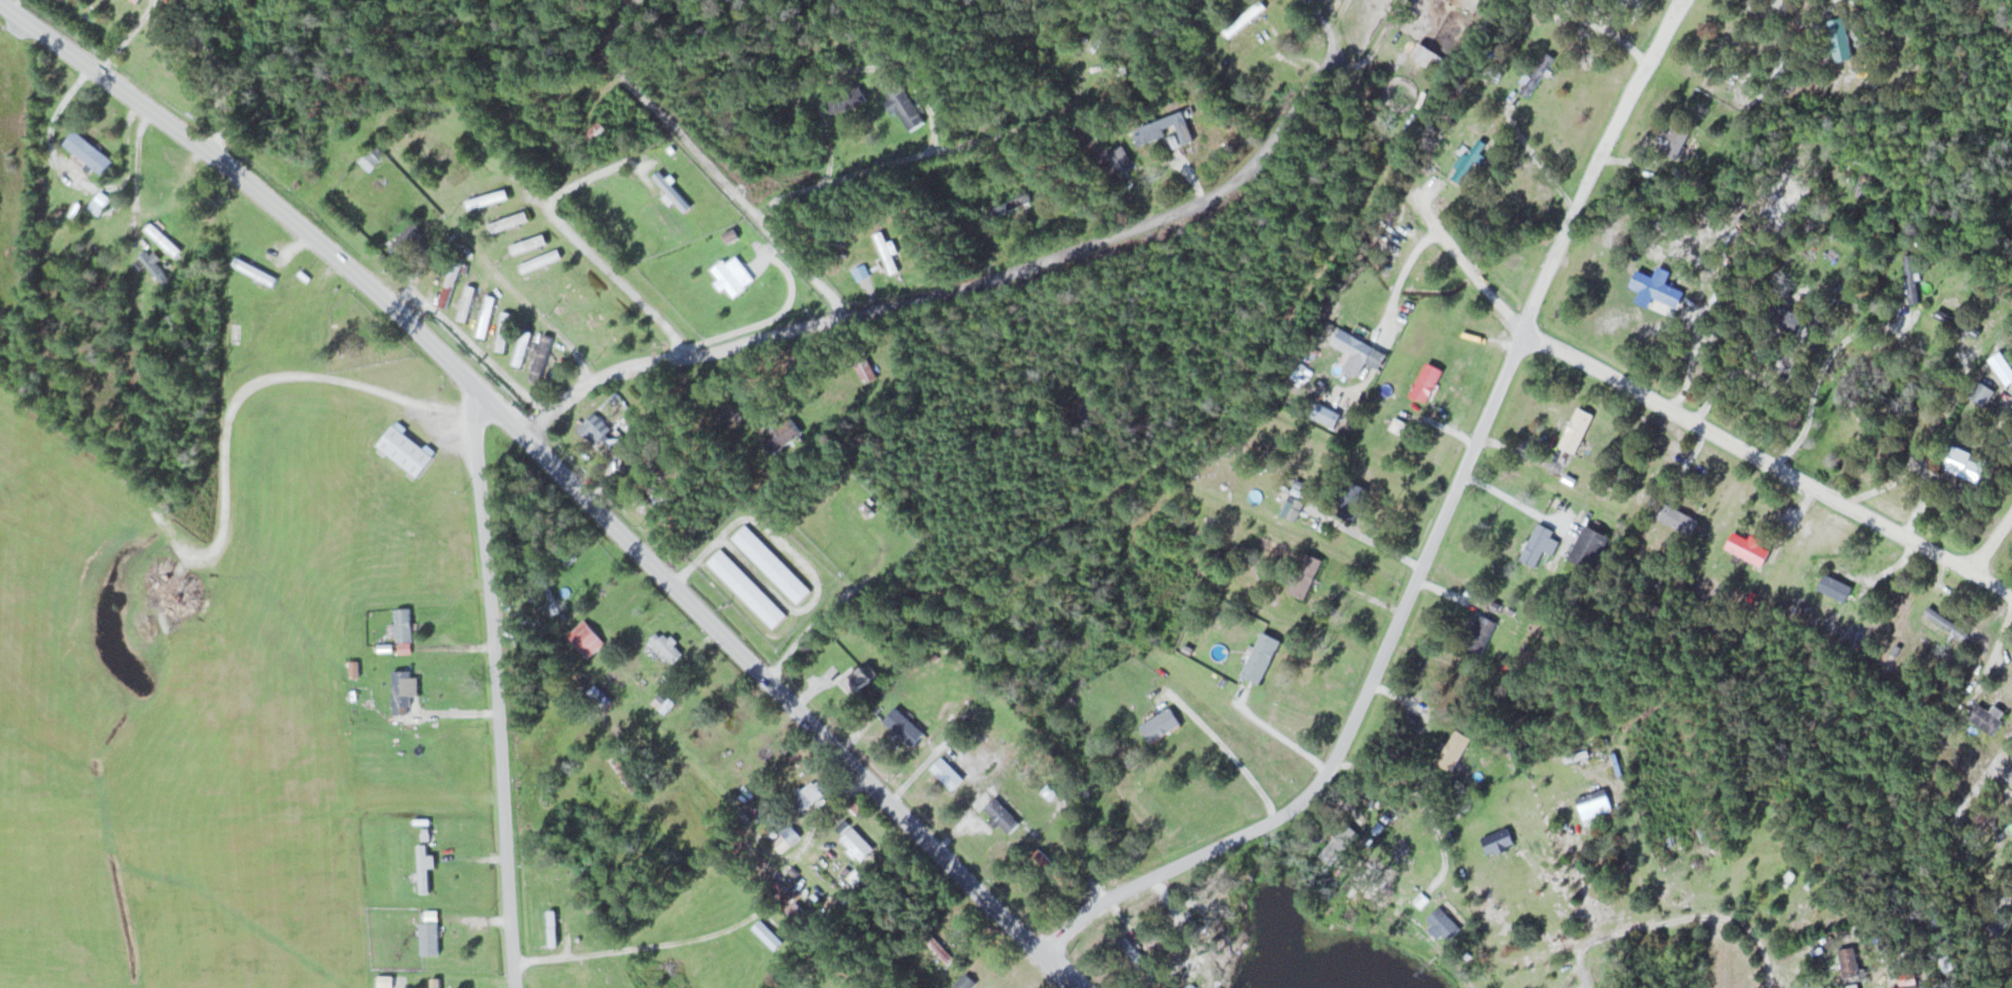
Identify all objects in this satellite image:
building: (137, 0)
road: (1309, 5)
road: (1318, 15)
building: (1245, 17)
building: (1840, 38)
building: (1429, 56)
building: (1537, 73)
road: (213, 74)
building: (847, 99)
building: (905, 105)
building: (618, 111)
building: (1163, 122)
building: (597, 132)
building: (1677, 138)
building: (88, 151)
road: (912, 156)
building: (373, 157)
road: (1597, 161)
building: (448, 162)
road: (704, 163)
building: (672, 189)
building: (487, 199)
building: (99, 202)
building: (1010, 204)
building: (508, 221)
building: (732, 231)
building: (408, 238)
building: (163, 239)
building: (528, 244)
building: (887, 252)
building: (150, 259)
building: (540, 260)
road: (1467, 264)
building: (255, 271)
building: (733, 276)
building: (1912, 278)
road: (967, 282)
building: (449, 285)
building: (1654, 287)
building: (467, 303)
building: (580, 305)
building: (486, 316)
building: (1783, 318)
building: (234, 336)
building: (522, 347)
building: (1360, 348)
building: (541, 358)
building: (866, 370)
building: (1427, 382)
building: (1982, 392)
building: (594, 428)
building: (1577, 429)
building: (781, 431)
road: (1190, 445)
building: (405, 450)
road: (1770, 461)
building: (1963, 463)
road: (562, 468)
building: (1353, 500)
building: (1295, 509)
building: (1677, 517)
road: (1992, 541)
building: (1537, 544)
building: (1590, 546)
building: (1749, 546)
building: (412, 563)
building: (771, 564)
building: (1306, 575)
building: (1836, 586)
building: (748, 588)
building: (1947, 622)
building: (404, 624)
building: (1481, 634)
building: (666, 644)
building: (1262, 657)
building: (856, 679)
road: (492, 683)
building: (403, 690)
building: (663, 702)
road: (1355, 705)
building: (1989, 717)
building: (1160, 724)
building: (904, 726)
building: (1454, 750)
building: (1939, 770)
building: (947, 773)
building: (626, 775)
building: (2010, 780)
building: (809, 793)
building: (1595, 805)
building: (1002, 815)
building: (787, 836)
building: (1498, 841)
building: (1341, 843)
building: (857, 844)
building: (425, 867)
building: (795, 910)
building: (1939, 921)
building: (1443, 924)
building: (1997, 924)
road: (1654, 925)
building: (552, 928)
building: (768, 934)
building: (429, 938)
building: (939, 948)
building: (1849, 962)
building: (581, 980)
building: (385, 981)
building: (964, 982)
building: (436, 983)
building: (1906, 986)

